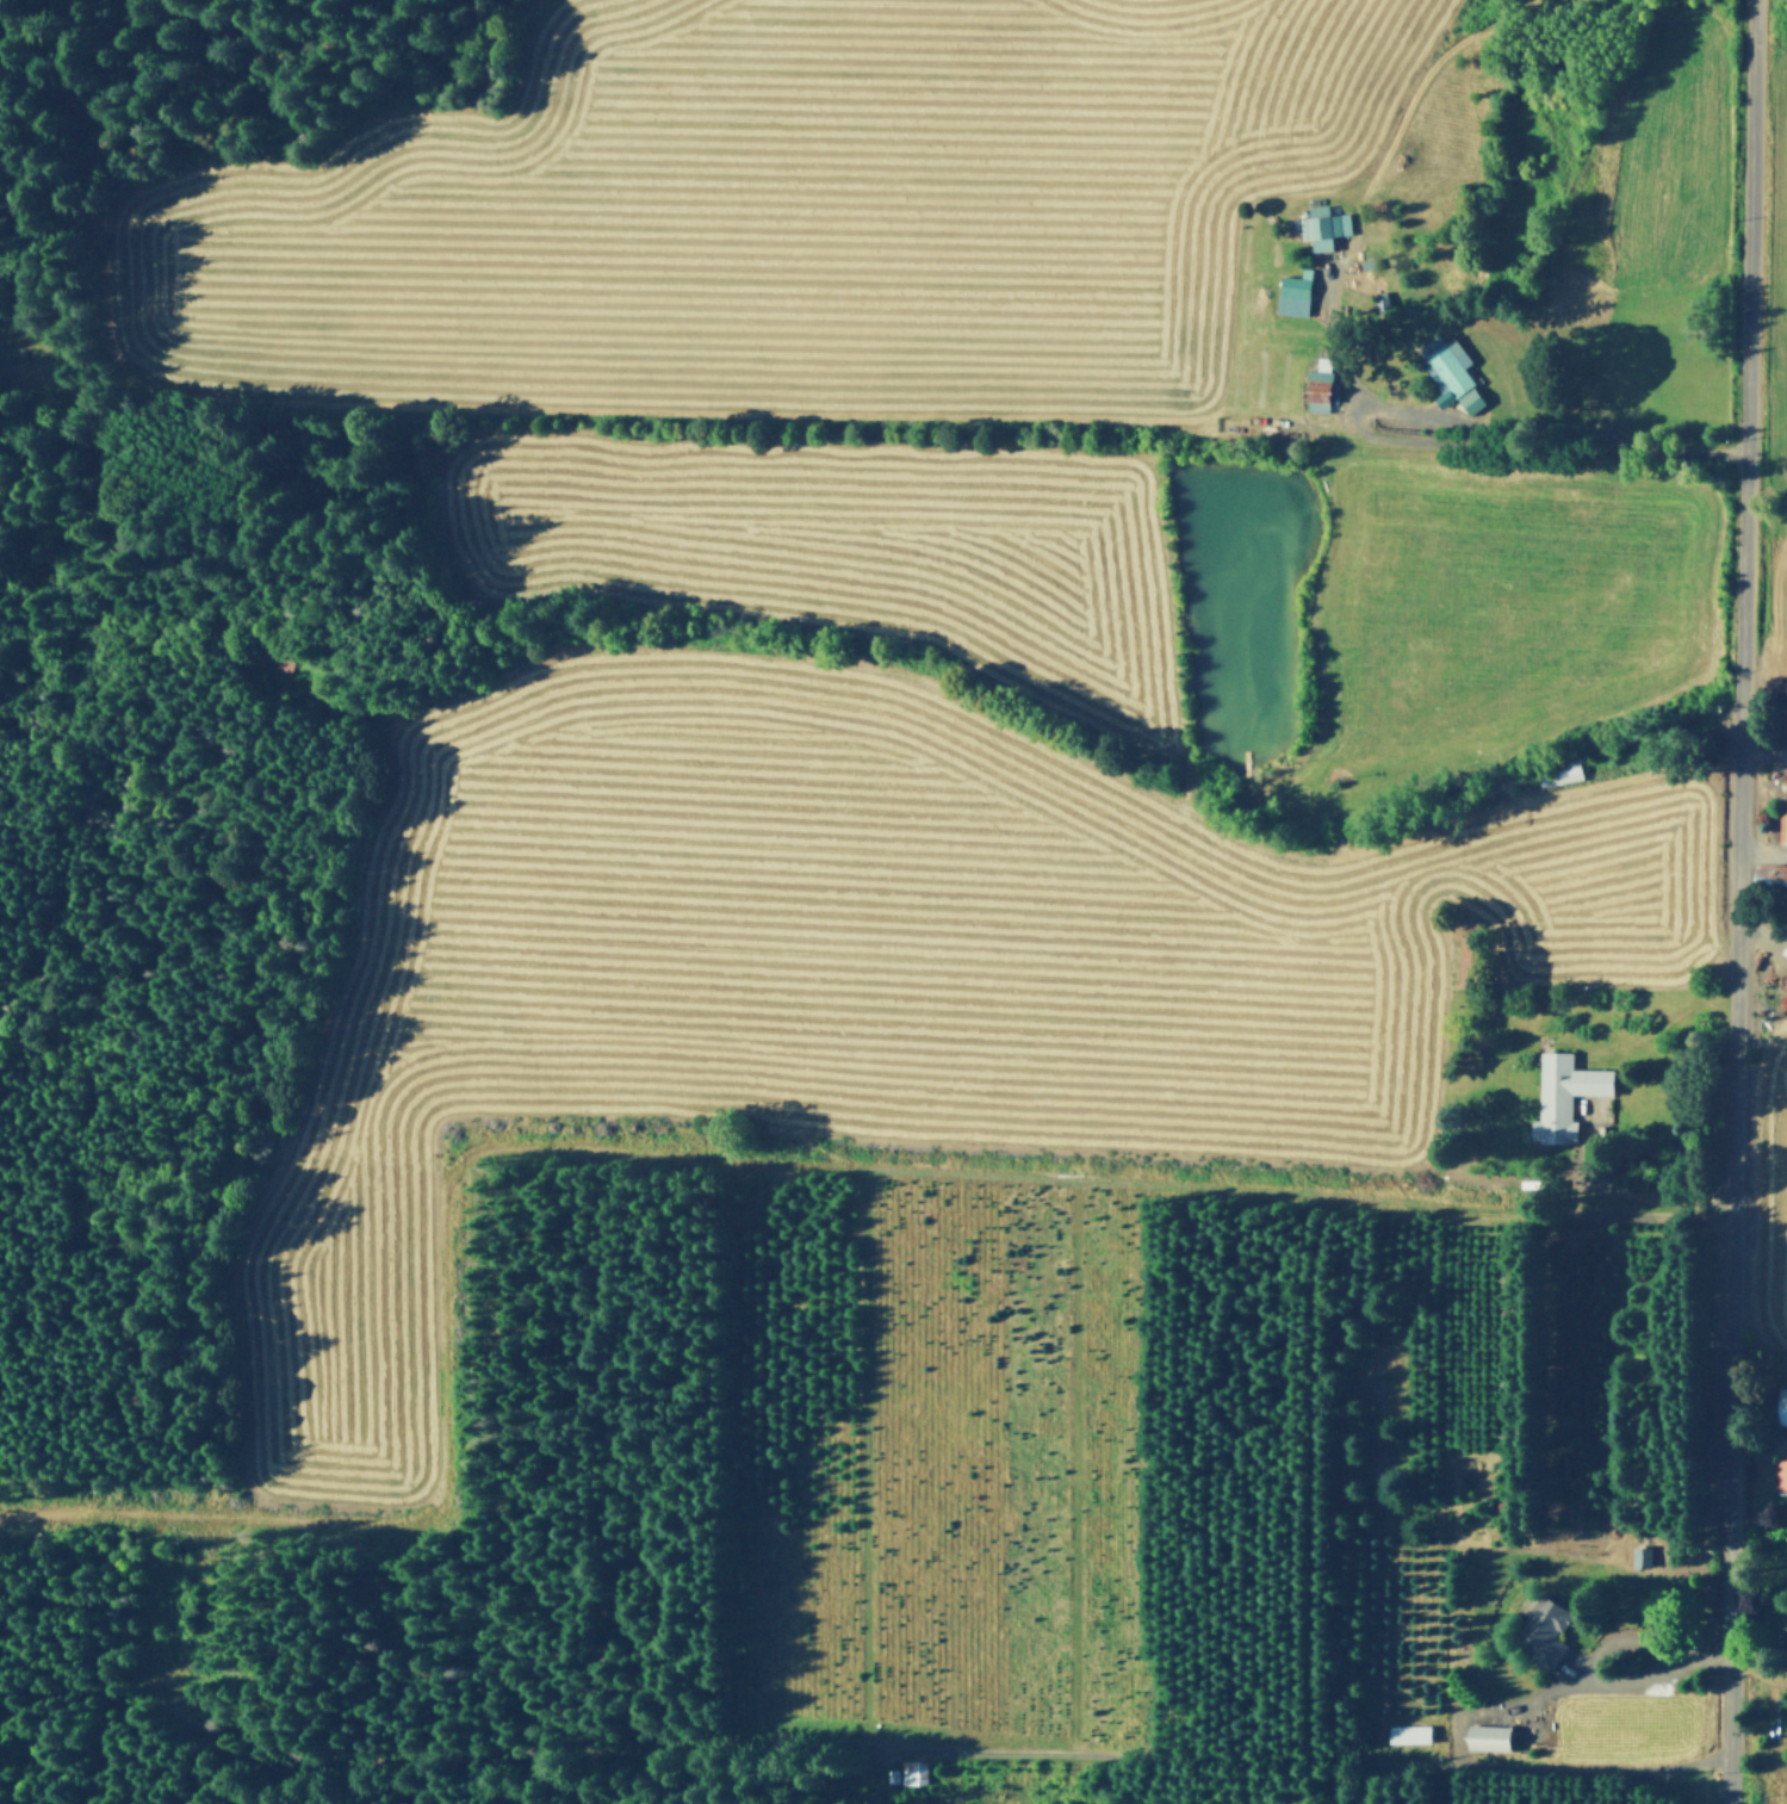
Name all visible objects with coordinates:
crop: (777, 209)
building: (1317, 219)
building: (1296, 293)
building: (1380, 298)
crop: (1779, 300)
building: (1444, 365)
building: (1320, 386)
building: (1473, 399)
road: (678, 411)
road: (1475, 421)
road: (1482, 440)
crop: (849, 547)
crop: (1495, 612)
road: (1763, 746)
road: (1493, 770)
building: (1562, 771)
building: (1783, 781)
building: (1782, 816)
road: (1761, 850)
road: (1302, 856)
building: (1770, 881)
road: (1737, 901)
road: (1762, 932)
building: (1471, 959)
crop: (849, 973)
building: (1563, 1092)
road: (1650, 1195)
crop: (1760, 1207)
building: (1783, 1407)
building: (1780, 1471)
building: (1642, 1556)
building: (1786, 1605)
building: (1783, 1620)
building: (1541, 1626)
road: (1617, 1639)
road: (1595, 1681)
building: (1408, 1730)
building: (1487, 1732)
road: (428, 1755)
road: (1307, 1759)
building: (910, 1769)
road: (882, 1772)
road: (809, 1774)

